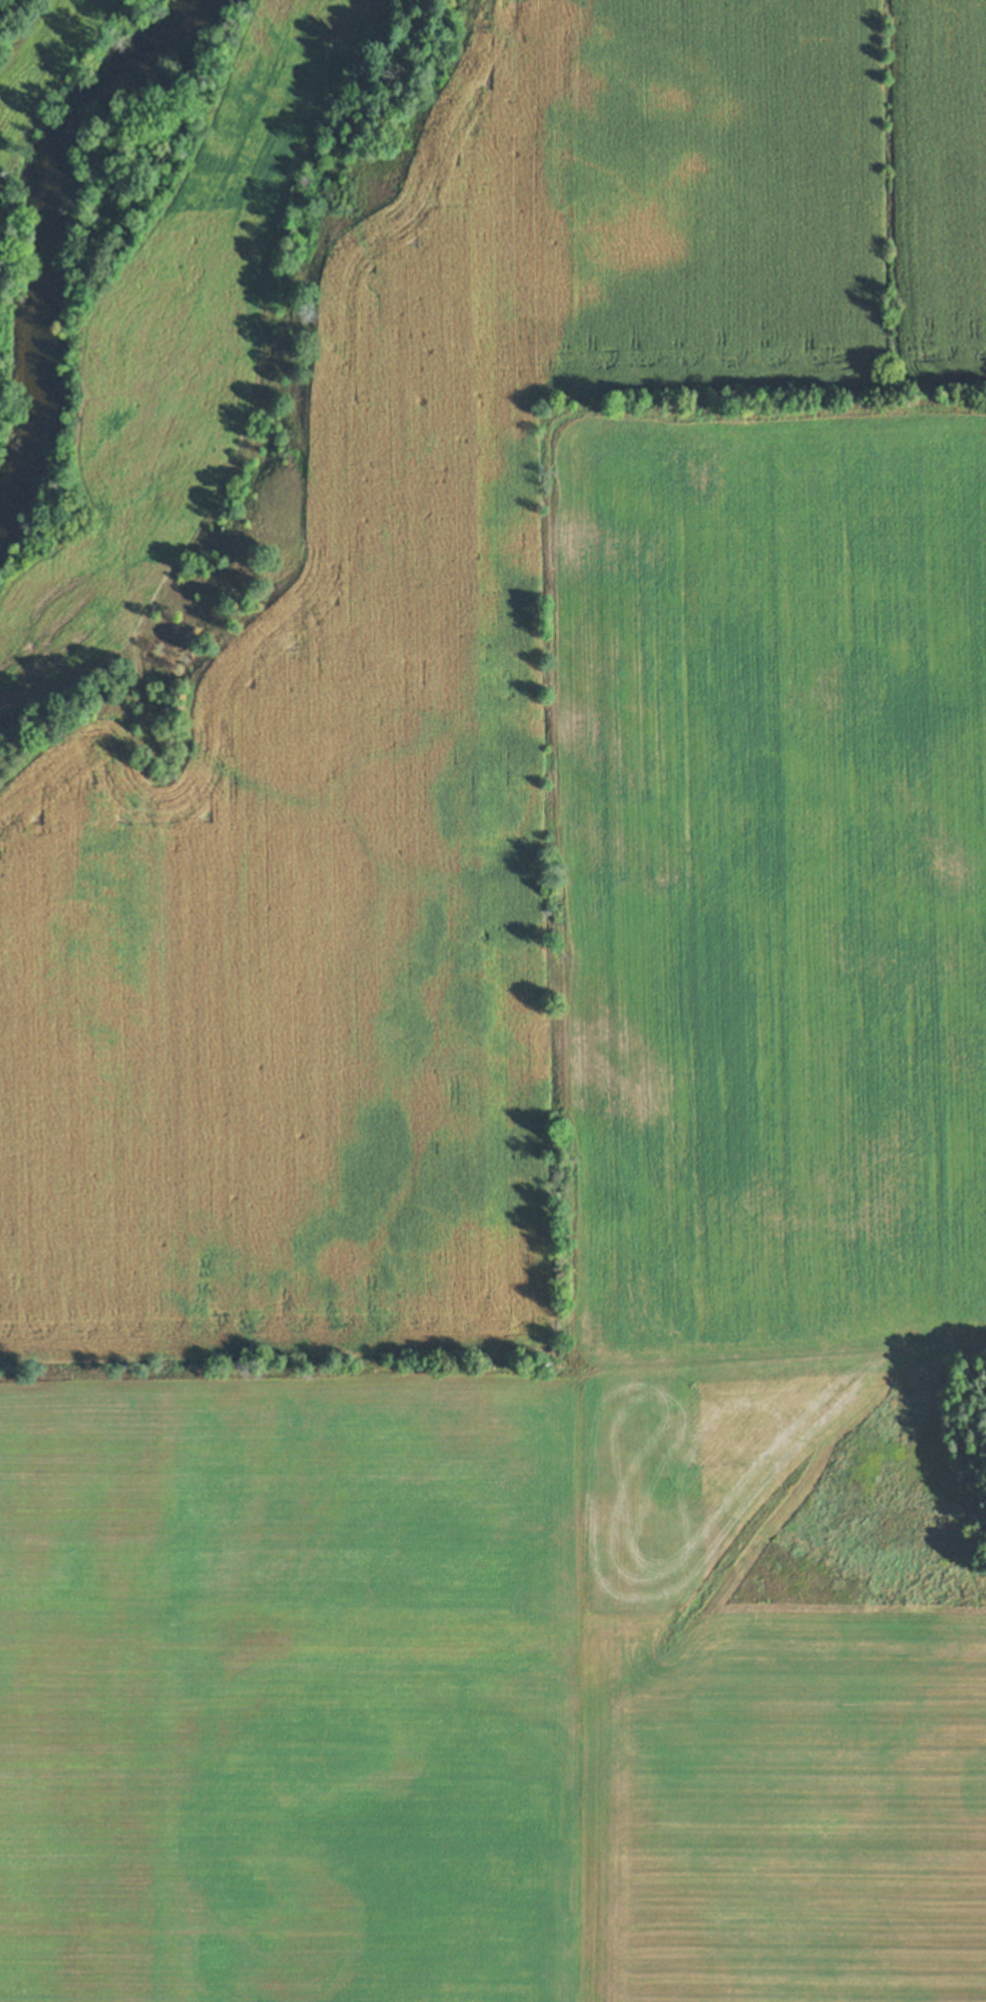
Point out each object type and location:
river: (52, 247)

